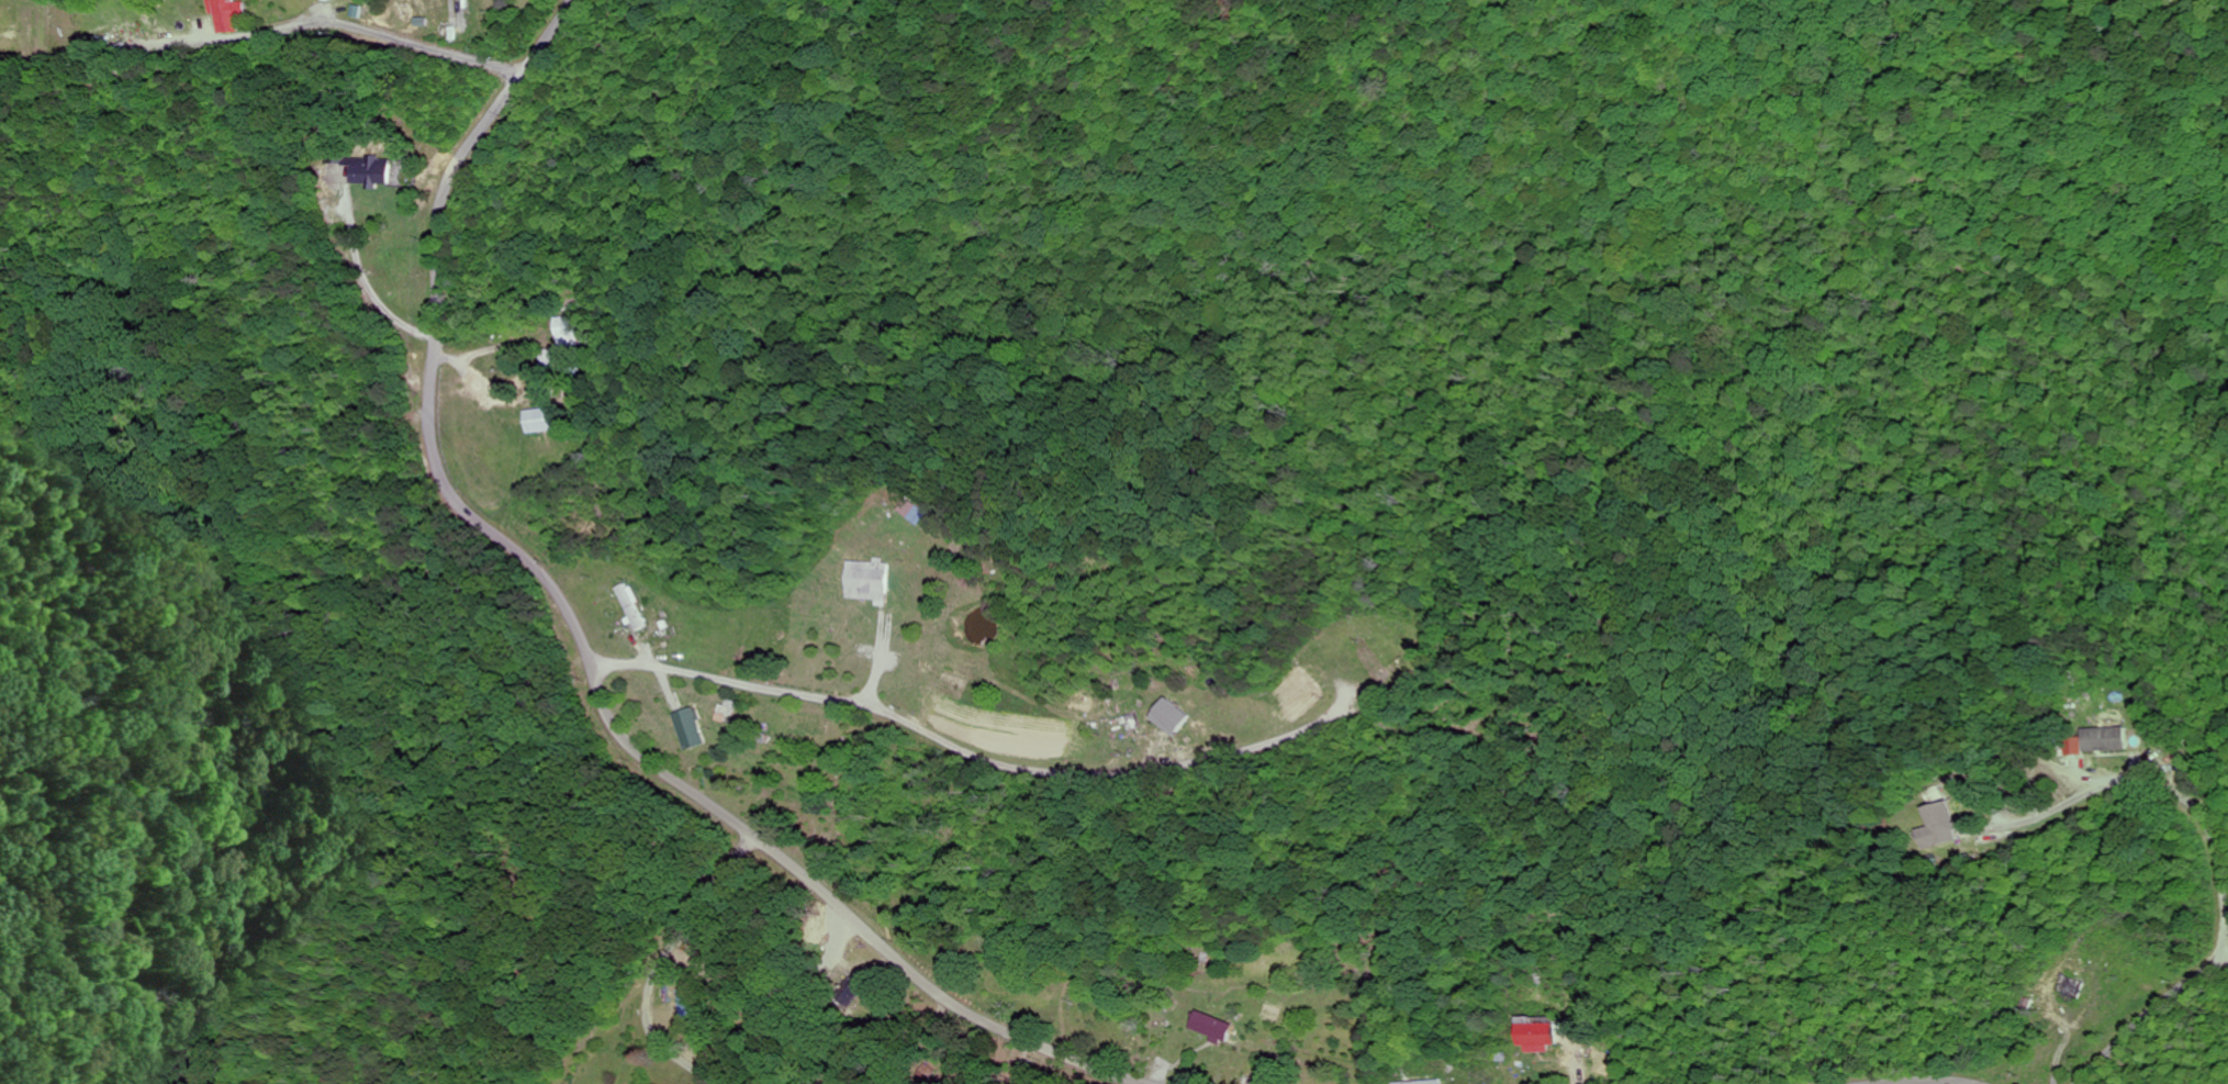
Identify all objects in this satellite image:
building: (229, 15)
road: (408, 42)
building: (370, 172)
building: (576, 333)
building: (541, 422)
building: (866, 582)
building: (631, 607)
road: (589, 633)
building: (723, 713)
building: (1171, 718)
road: (915, 725)
building: (688, 730)
building: (2107, 739)
building: (2076, 746)
building: (1941, 827)
road: (1124, 852)
road: (664, 949)
building: (854, 996)
road: (2145, 1015)
building: (1211, 1027)
building: (1540, 1036)
building: (1422, 1083)
road: (1927, 1083)

